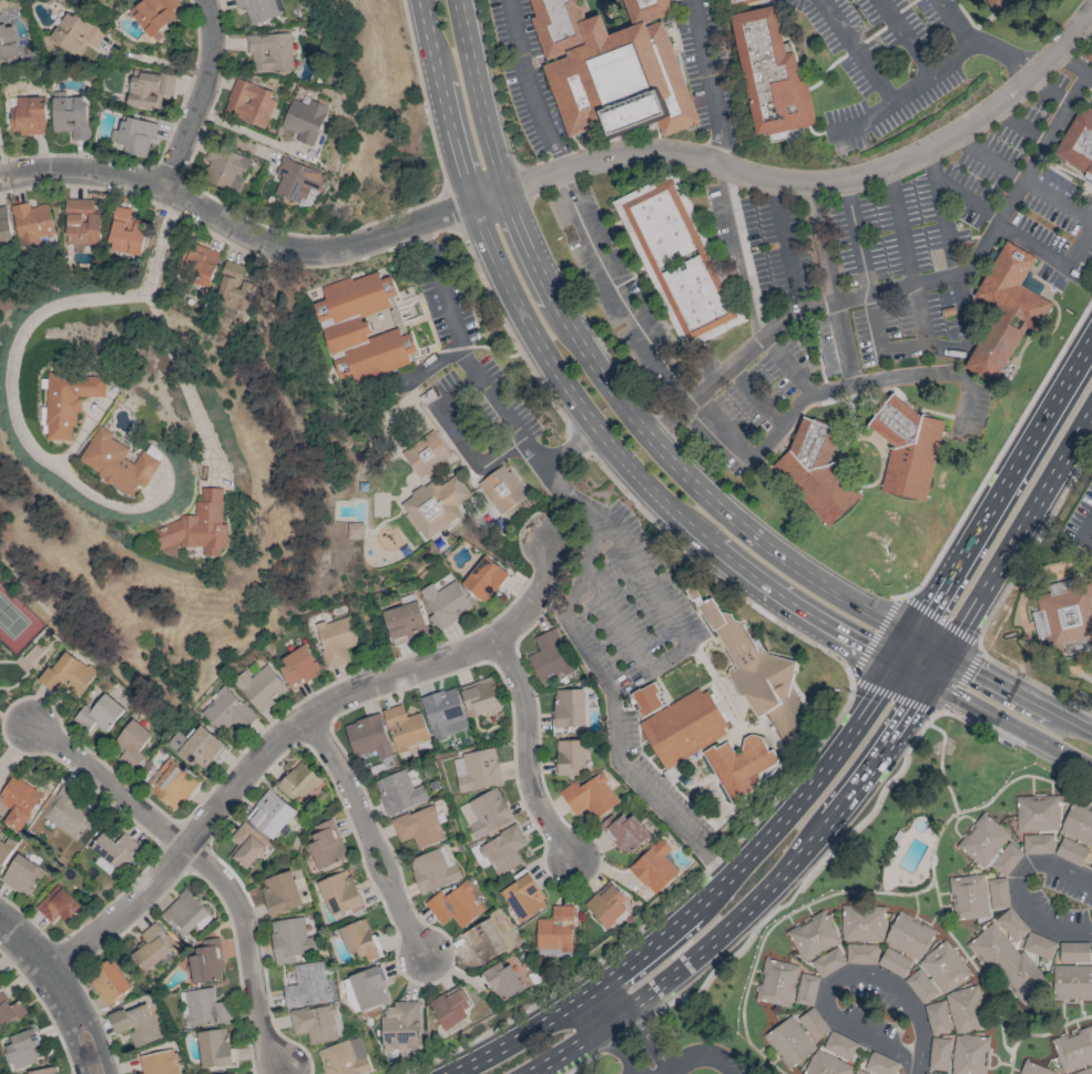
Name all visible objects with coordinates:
building: (738, 1)
building: (998, 4)
building: (257, 9)
road: (1091, 13)
building: (153, 14)
road: (950, 23)
building: (75, 33)
road: (905, 38)
building: (7, 42)
road: (855, 51)
building: (269, 52)
road: (1004, 54)
road: (156, 60)
road: (1072, 63)
building: (612, 64)
road: (707, 70)
building: (770, 73)
road: (1089, 74)
road: (529, 86)
building: (147, 89)
road: (421, 95)
road: (202, 96)
road: (899, 98)
building: (248, 103)
building: (25, 115)
building: (69, 115)
building: (304, 120)
building: (134, 136)
road: (961, 141)
building: (1078, 143)
road: (716, 152)
road: (2, 166)
road: (931, 166)
building: (225, 168)
road: (562, 178)
road: (888, 181)
road: (807, 182)
road: (1029, 184)
road: (846, 187)
road: (968, 197)
road: (449, 211)
building: (31, 223)
building: (81, 223)
building: (4, 226)
road: (236, 229)
building: (125, 232)
road: (302, 235)
road: (238, 245)
road: (786, 245)
road: (1032, 247)
road: (1080, 250)
road: (741, 253)
building: (678, 262)
building: (197, 266)
road: (308, 266)
road: (955, 267)
road: (910, 269)
road: (865, 275)
road: (831, 284)
building: (235, 288)
road: (899, 288)
road: (620, 297)
building: (1006, 310)
building: (360, 329)
road: (918, 348)
road: (16, 355)
road: (787, 367)
road: (601, 378)
road: (480, 381)
road: (868, 382)
road: (186, 383)
road: (571, 395)
road: (756, 397)
building: (71, 401)
road: (721, 426)
road: (458, 437)
building: (909, 449)
road: (999, 451)
building: (426, 454)
building: (122, 461)
building: (817, 471)
building: (501, 489)
road: (996, 503)
building: (435, 505)
building: (196, 528)
building: (354, 531)
road: (1017, 531)
road: (1085, 531)
road: (1085, 545)
building: (484, 579)
building: (443, 603)
road: (998, 603)
building: (1065, 615)
building: (405, 623)
building: (335, 640)
traffic signals: (912, 640)
road: (928, 647)
road: (681, 648)
traffic signals: (943, 655)
building: (29, 656)
building: (549, 656)
traffic signals: (897, 663)
building: (298, 665)
road: (936, 667)
road: (598, 671)
road: (854, 671)
road: (912, 672)
building: (67, 674)
building: (757, 675)
road: (849, 676)
traffic signals: (928, 681)
building: (259, 687)
road: (1018, 693)
building: (479, 697)
building: (646, 699)
building: (569, 707)
building: (226, 710)
building: (443, 713)
building: (99, 714)
road: (17, 718)
road: (970, 724)
road: (1009, 724)
road: (290, 728)
building: (405, 728)
building: (683, 728)
building: (367, 737)
building: (177, 741)
building: (131, 744)
building: (200, 749)
road: (523, 750)
building: (569, 756)
road: (940, 765)
building: (739, 766)
building: (479, 770)
road: (339, 771)
building: (297, 780)
building: (171, 784)
road: (109, 787)
building: (398, 792)
building: (589, 796)
building: (18, 801)
building: (67, 811)
building: (488, 812)
building: (269, 814)
building: (1037, 814)
building: (1078, 824)
building: (419, 827)
building: (624, 832)
road: (759, 841)
building: (246, 845)
building: (1038, 845)
building: (326, 846)
building: (990, 846)
building: (114, 849)
building: (4, 851)
building: (503, 851)
building: (1071, 851)
road: (931, 863)
road: (386, 865)
building: (653, 867)
road: (788, 867)
road: (374, 870)
building: (432, 870)
building: (21, 876)
road: (1021, 888)
building: (280, 892)
building: (339, 893)
building: (998, 893)
building: (523, 897)
building: (968, 898)
building: (606, 904)
building: (58, 906)
building: (456, 906)
building: (184, 913)
road: (770, 913)
building: (861, 923)
building: (1011, 924)
road: (772, 927)
road: (409, 930)
building: (555, 930)
building: (812, 935)
building: (908, 935)
building: (289, 940)
building: (358, 940)
building: (484, 941)
building: (1091, 942)
building: (1038, 945)
building: (151, 948)
road: (247, 952)
building: (1073, 952)
building: (860, 954)
building: (206, 962)
building: (827, 962)
building: (894, 962)
building: (1007, 963)
building: (943, 968)
building: (0, 978)
road: (839, 978)
building: (503, 981)
building: (109, 982)
building: (776, 983)
building: (1072, 983)
building: (306, 985)
building: (920, 986)
building: (369, 989)
road: (60, 990)
building: (806, 990)
road: (603, 1006)
building: (450, 1007)
building: (203, 1009)
building: (966, 1010)
building: (9, 1011)
building: (937, 1017)
building: (317, 1023)
building: (135, 1024)
building: (813, 1024)
building: (400, 1026)
road: (1048, 1033)
road: (528, 1035)
building: (789, 1042)
building: (839, 1045)
road: (634, 1046)
road: (573, 1047)
building: (22, 1049)
building: (214, 1049)
building: (1073, 1049)
building: (939, 1054)
building: (969, 1054)
road: (698, 1056)
building: (344, 1057)
building: (159, 1063)
road: (1010, 1063)
building: (826, 1064)
building: (881, 1064)
road: (914, 1066)
road: (585, 1067)
building: (1033, 1068)
building: (44, 1071)
building: (1084, 1071)
building: (859, 1072)
building: (927, 1073)

